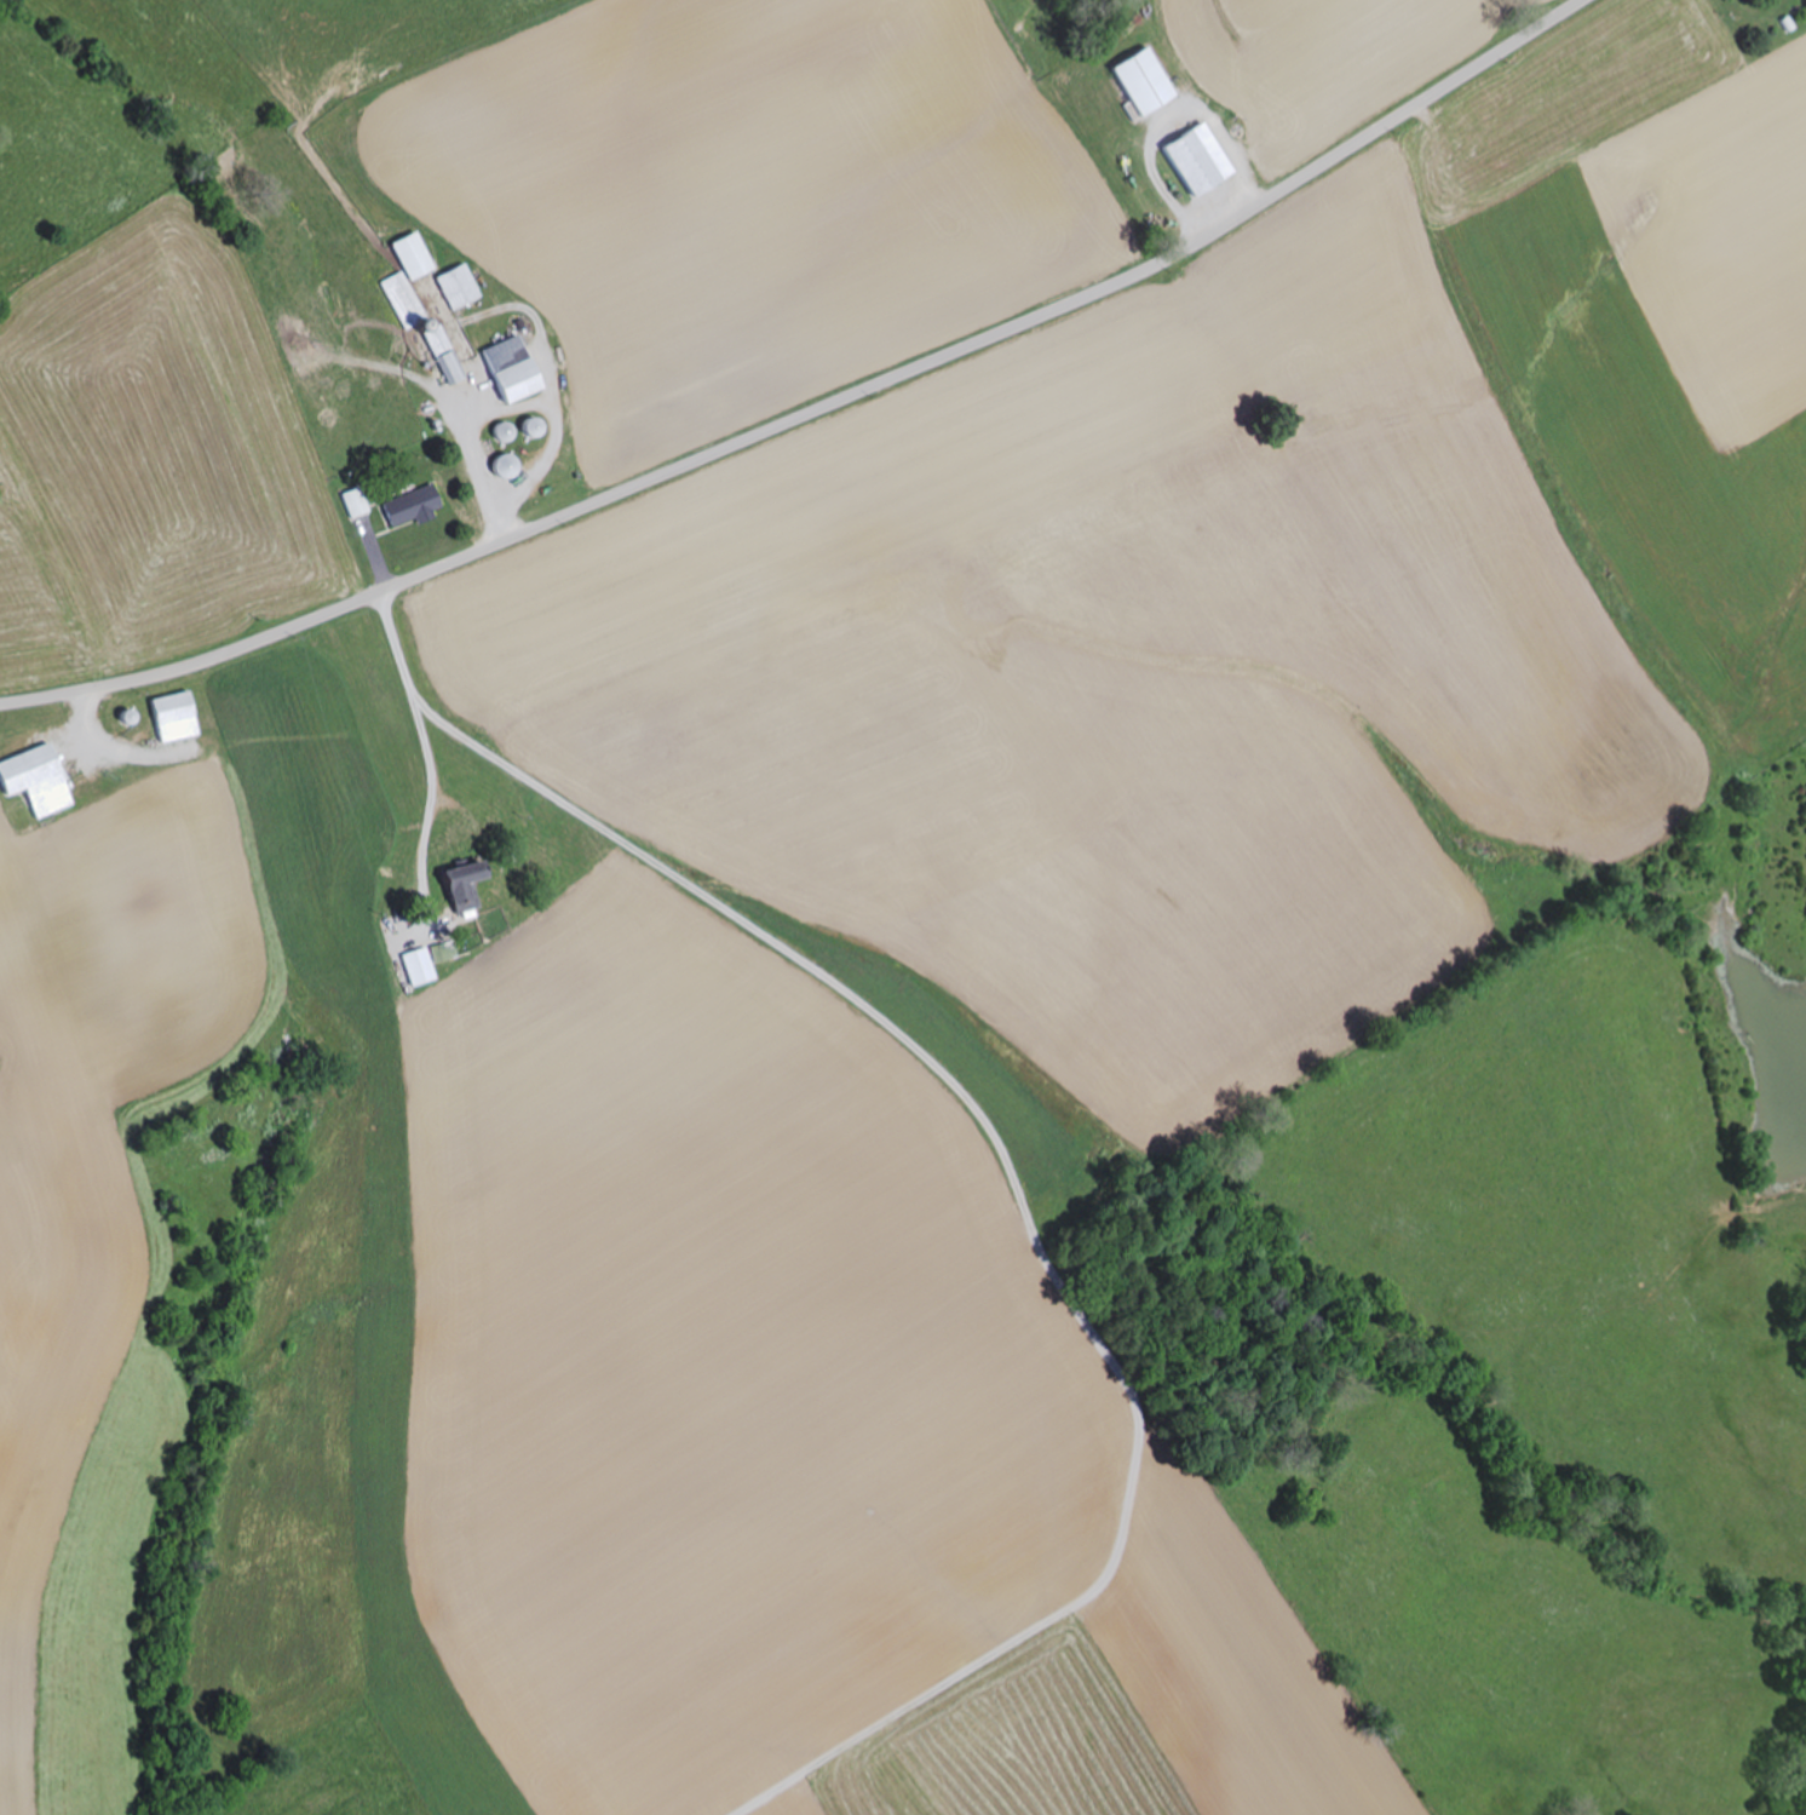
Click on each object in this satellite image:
building: (1141, 84)
building: (1197, 161)
building: (413, 257)
building: (460, 288)
building: (422, 327)
building: (507, 372)
road: (813, 410)
building: (529, 429)
building: (502, 433)
building: (502, 467)
building: (409, 507)
building: (171, 719)
road: (421, 731)
building: (34, 782)
building: (459, 888)
building: (416, 967)

